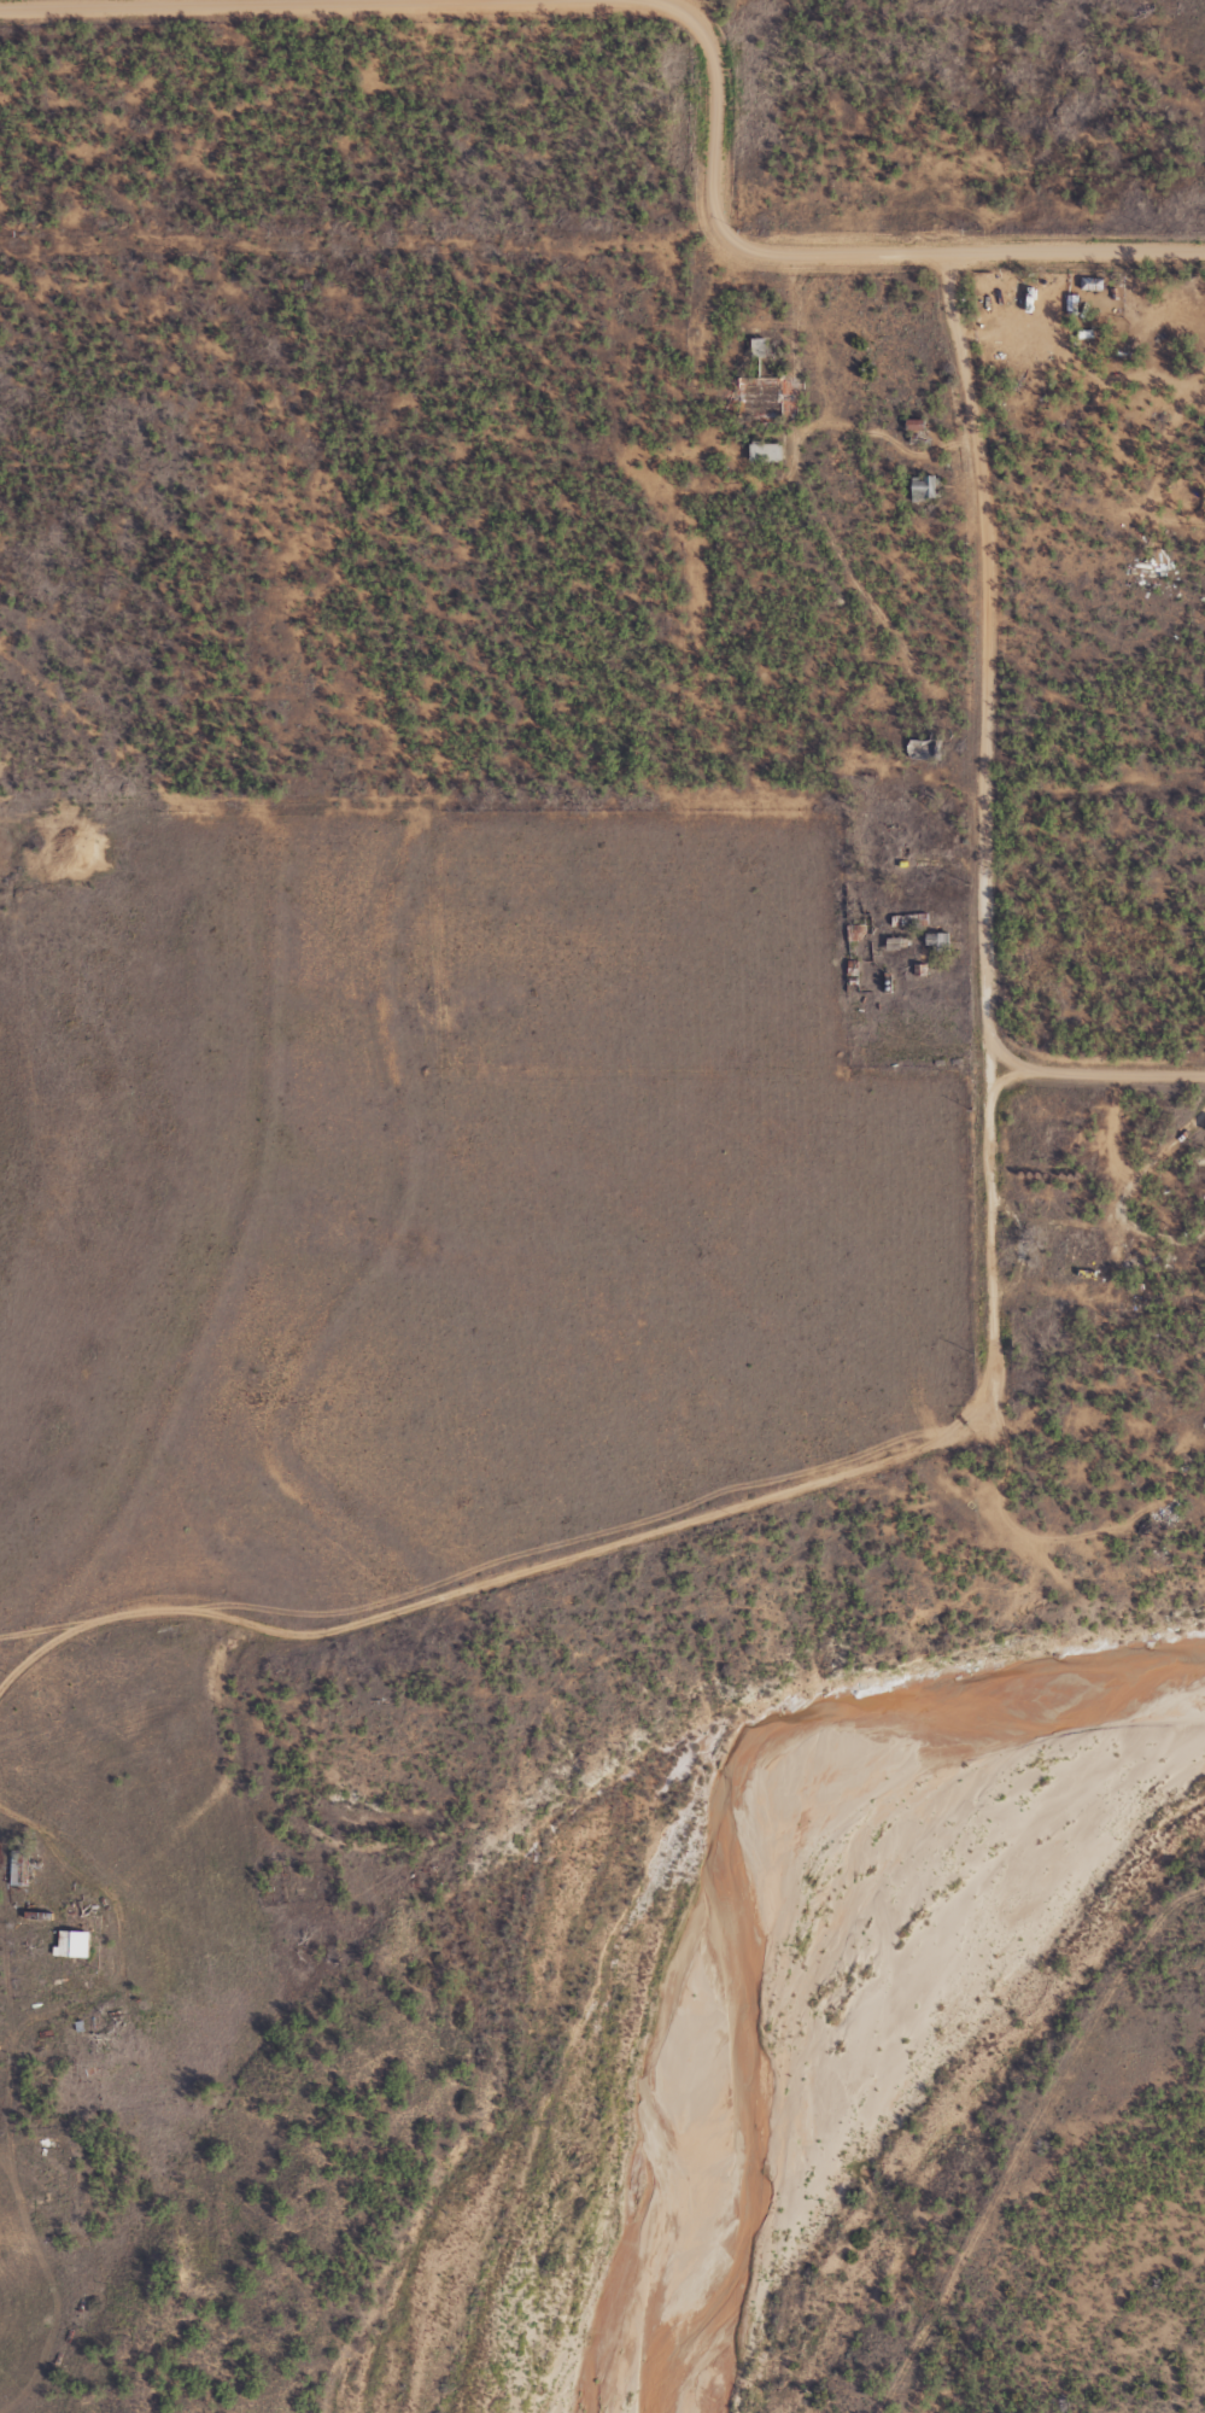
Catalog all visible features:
road: (227, 1)
road: (829, 252)
building: (1094, 284)
building: (1074, 304)
building: (761, 346)
building: (768, 451)
building: (926, 487)
road: (989, 661)
building: (929, 749)
building: (940, 942)
road: (1099, 1075)
road: (1128, 1178)
road: (665, 1524)
road: (47, 1648)
building: (21, 1866)
river: (791, 1911)
building: (74, 1944)

